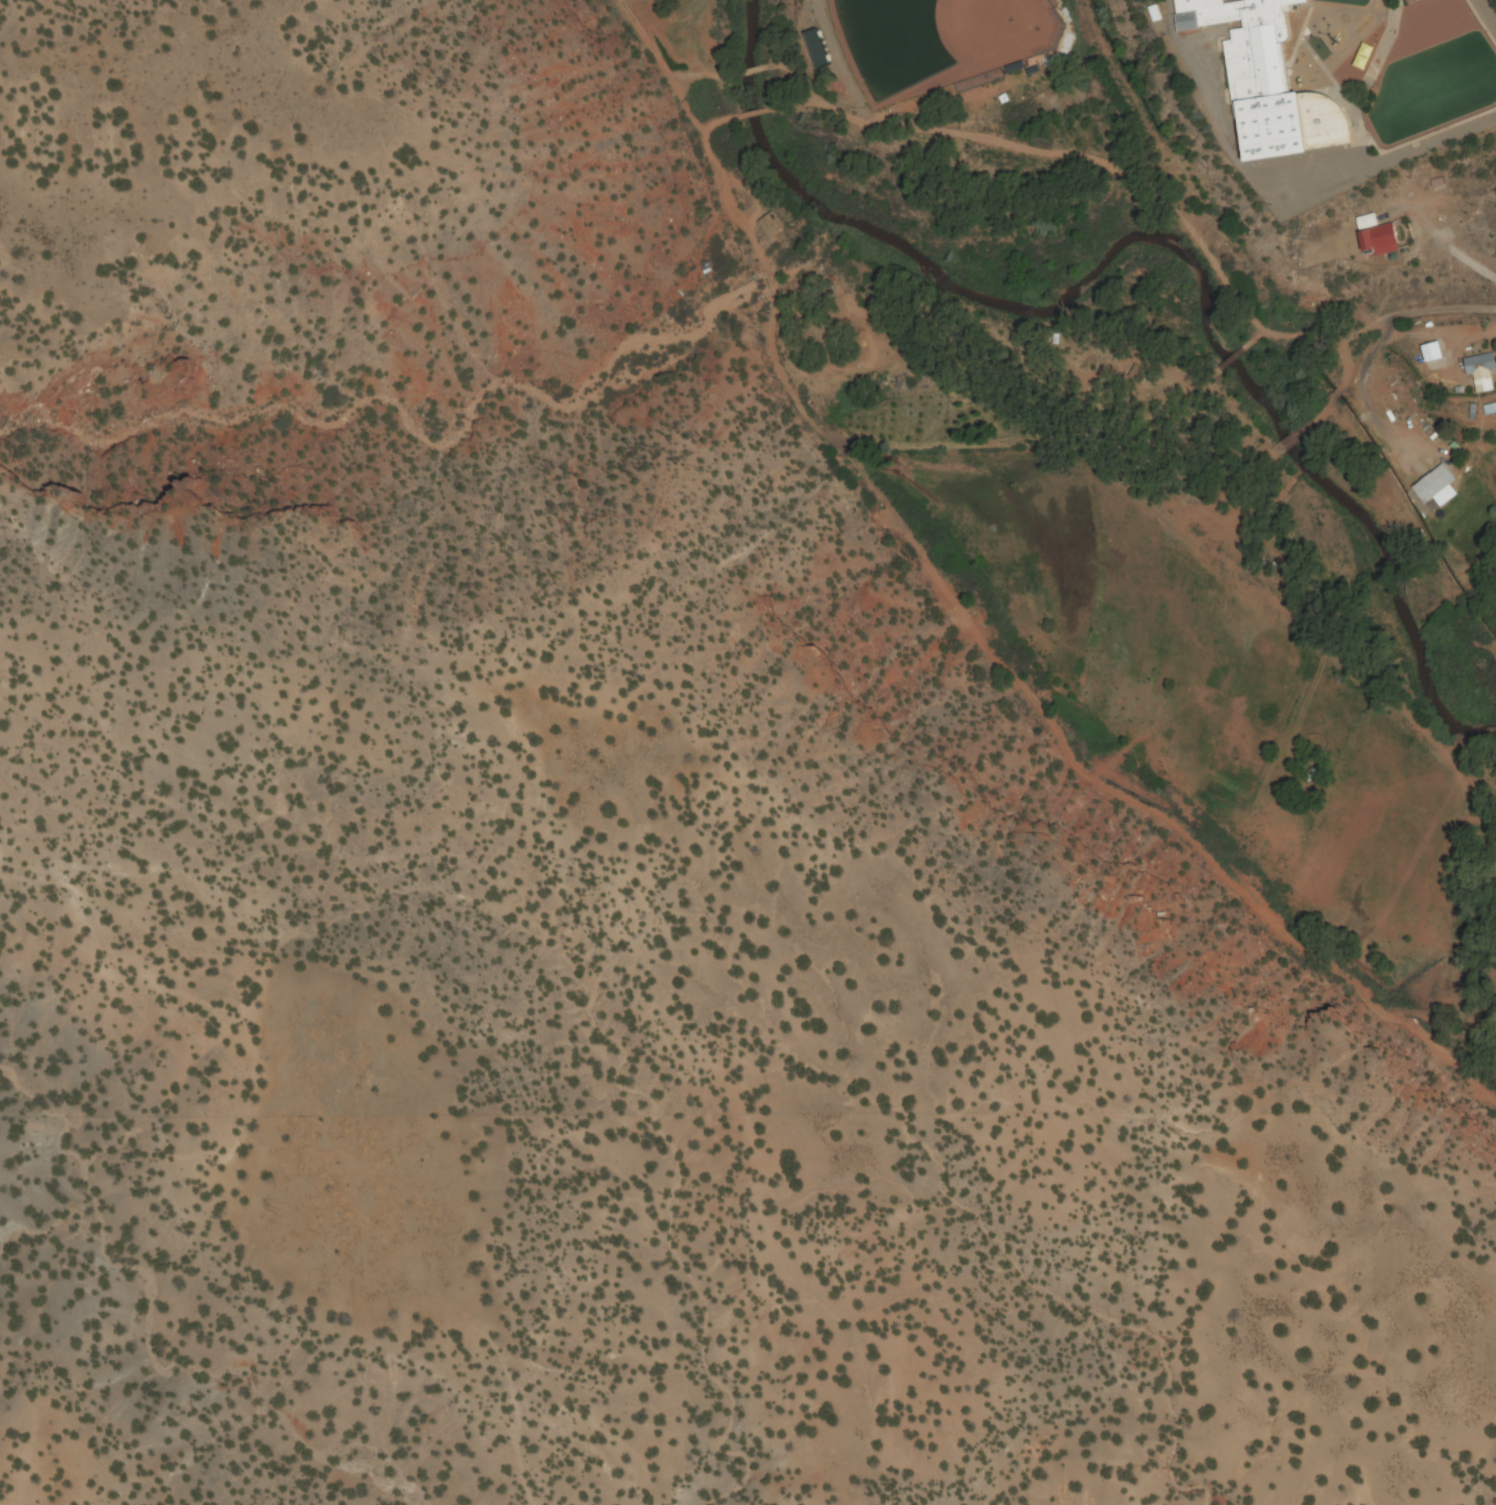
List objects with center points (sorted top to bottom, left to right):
building: (1418, 0)
building: (1451, 11)
park: (918, 37)
road: (836, 63)
building: (1267, 78)
road: (666, 79)
road: (748, 115)
road: (722, 178)
road: (1155, 197)
building: (771, 227)
building: (1378, 237)
road: (767, 326)
building: (816, 330)
building: (1427, 360)
building: (1481, 372)
building: (1136, 373)
building: (1433, 484)
road: (1122, 800)

